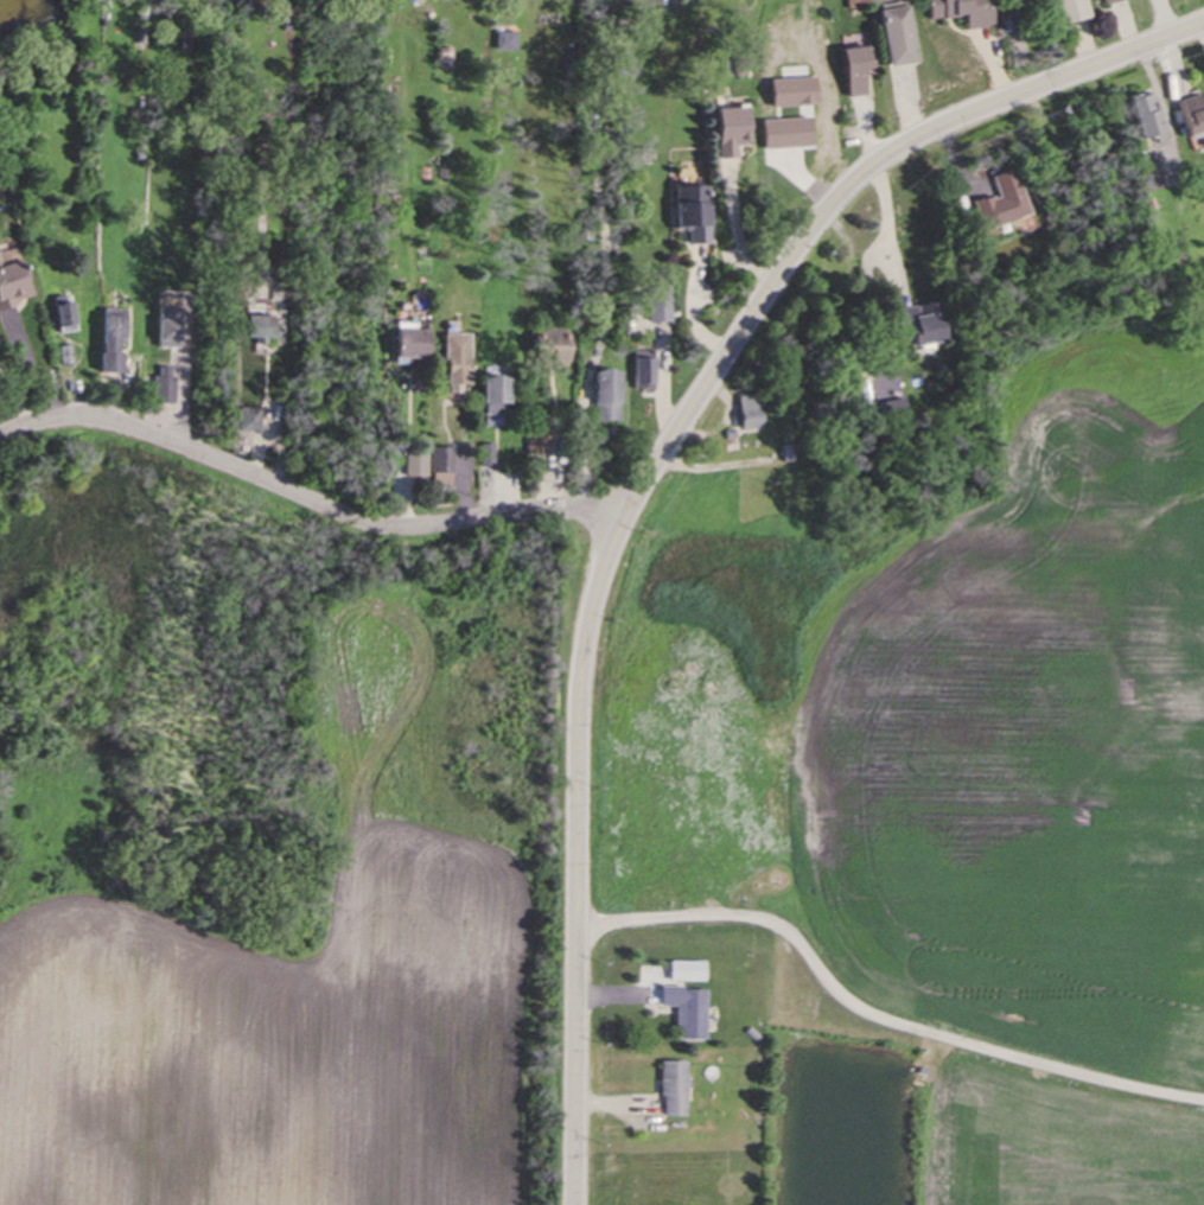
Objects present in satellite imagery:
building: (1114, 1)
building: (1021, 2)
building: (1074, 11)
building: (966, 12)
building: (902, 37)
building: (861, 64)
building: (1192, 115)
building: (1145, 117)
building: (735, 132)
building: (1005, 204)
building: (701, 222)
road: (888, 228)
road: (733, 234)
building: (14, 285)
building: (661, 308)
building: (69, 320)
building: (926, 325)
building: (119, 336)
building: (416, 345)
building: (558, 345)
building: (460, 361)
building: (646, 369)
building: (499, 397)
building: (610, 397)
building: (752, 413)
road: (399, 455)
building: (416, 463)
building: (444, 465)
road: (648, 473)
road: (310, 504)
crop: (1018, 774)
building: (689, 973)
building: (689, 1012)
road: (869, 1020)
building: (675, 1091)

